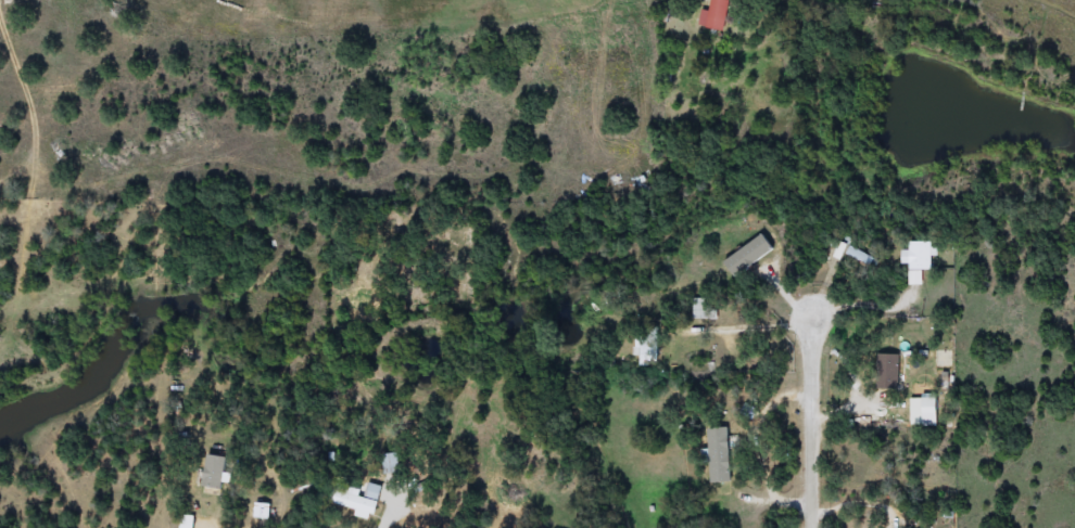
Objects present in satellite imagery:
building: (716, 15)
road: (30, 98)
building: (750, 255)
building: (859, 256)
building: (920, 258)
road: (744, 331)
building: (645, 347)
building: (888, 371)
road: (813, 421)
building: (720, 455)
building: (215, 473)
building: (358, 500)
road: (268, 502)
road: (388, 514)

